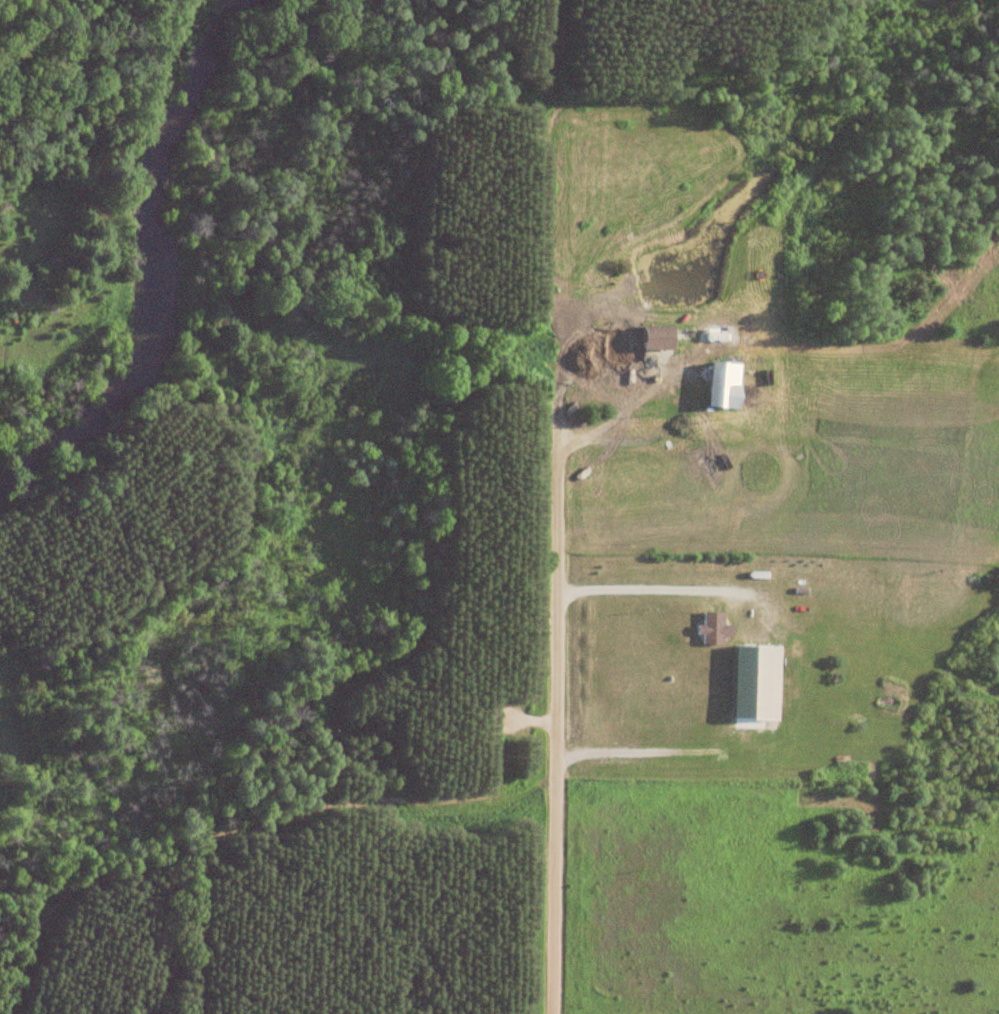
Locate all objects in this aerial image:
river: (151, 267)
building: (639, 342)
road: (582, 367)
building: (723, 386)
road: (635, 586)
building: (713, 629)
road: (542, 719)
road: (639, 751)
road: (245, 826)

